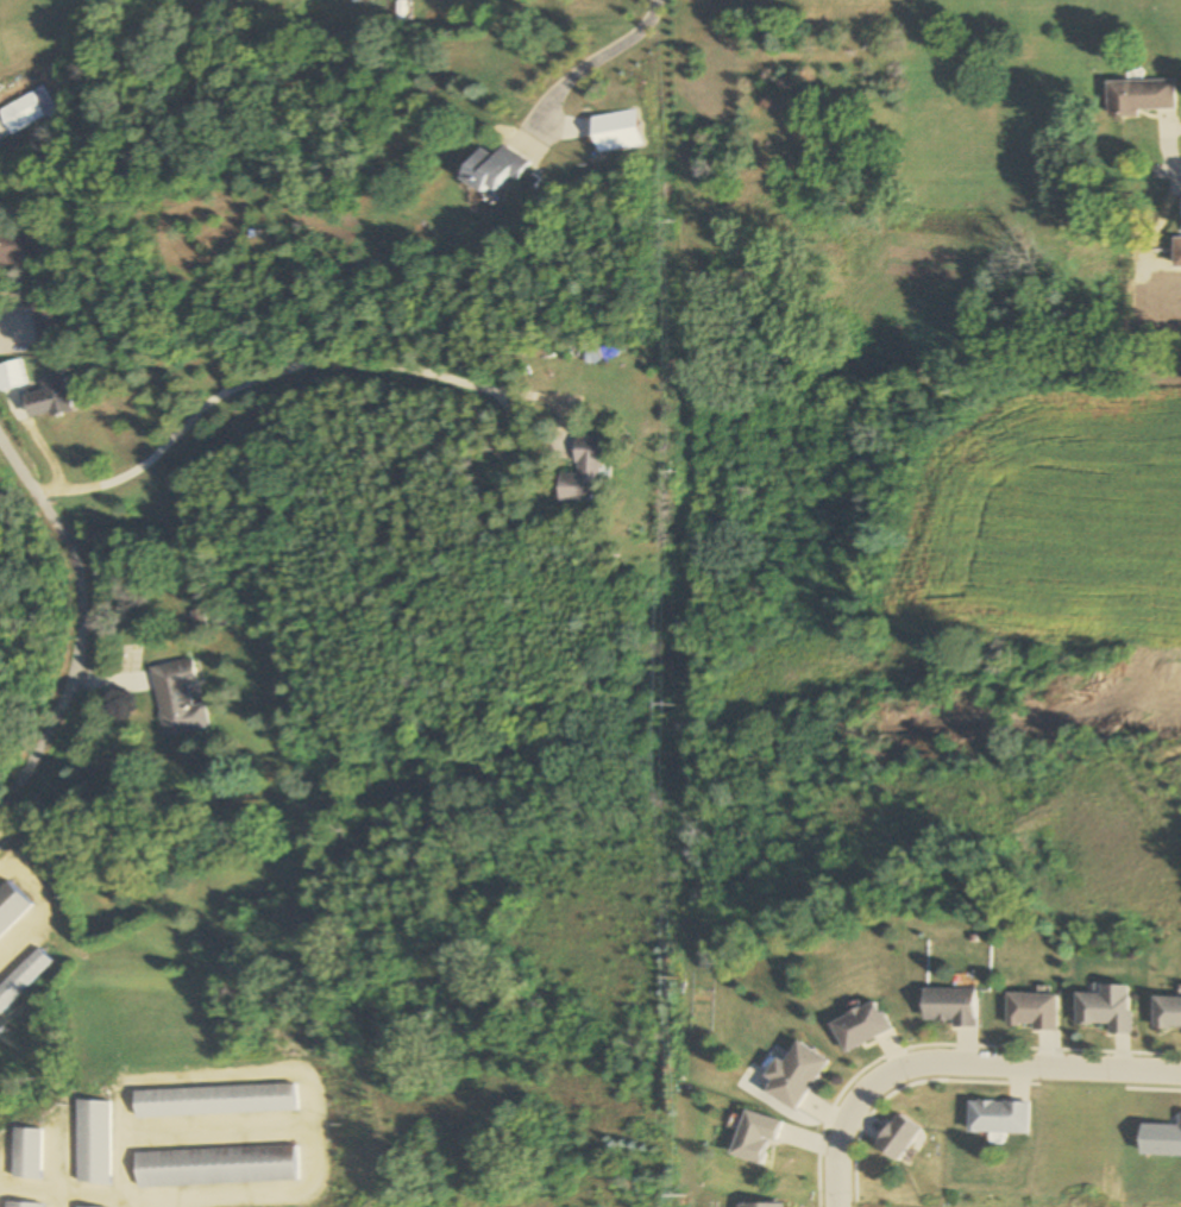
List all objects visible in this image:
road: (586, 67)
road: (15, 86)
building: (1139, 96)
building: (27, 112)
building: (492, 169)
building: (12, 250)
building: (44, 320)
road: (300, 365)
building: (12, 375)
building: (48, 398)
building: (579, 473)
crop: (1061, 510)
building: (196, 618)
road: (80, 627)
building: (180, 698)
road: (7, 850)
building: (12, 906)
building: (24, 979)
building: (950, 1007)
building: (1107, 1008)
building: (1031, 1012)
building: (1168, 1014)
building: (861, 1027)
road: (955, 1063)
building: (793, 1077)
building: (218, 1101)
building: (997, 1118)
building: (753, 1138)
building: (896, 1139)
building: (96, 1143)
building: (26, 1155)
building: (218, 1168)
building: (19, 1206)
building: (760, 1206)

